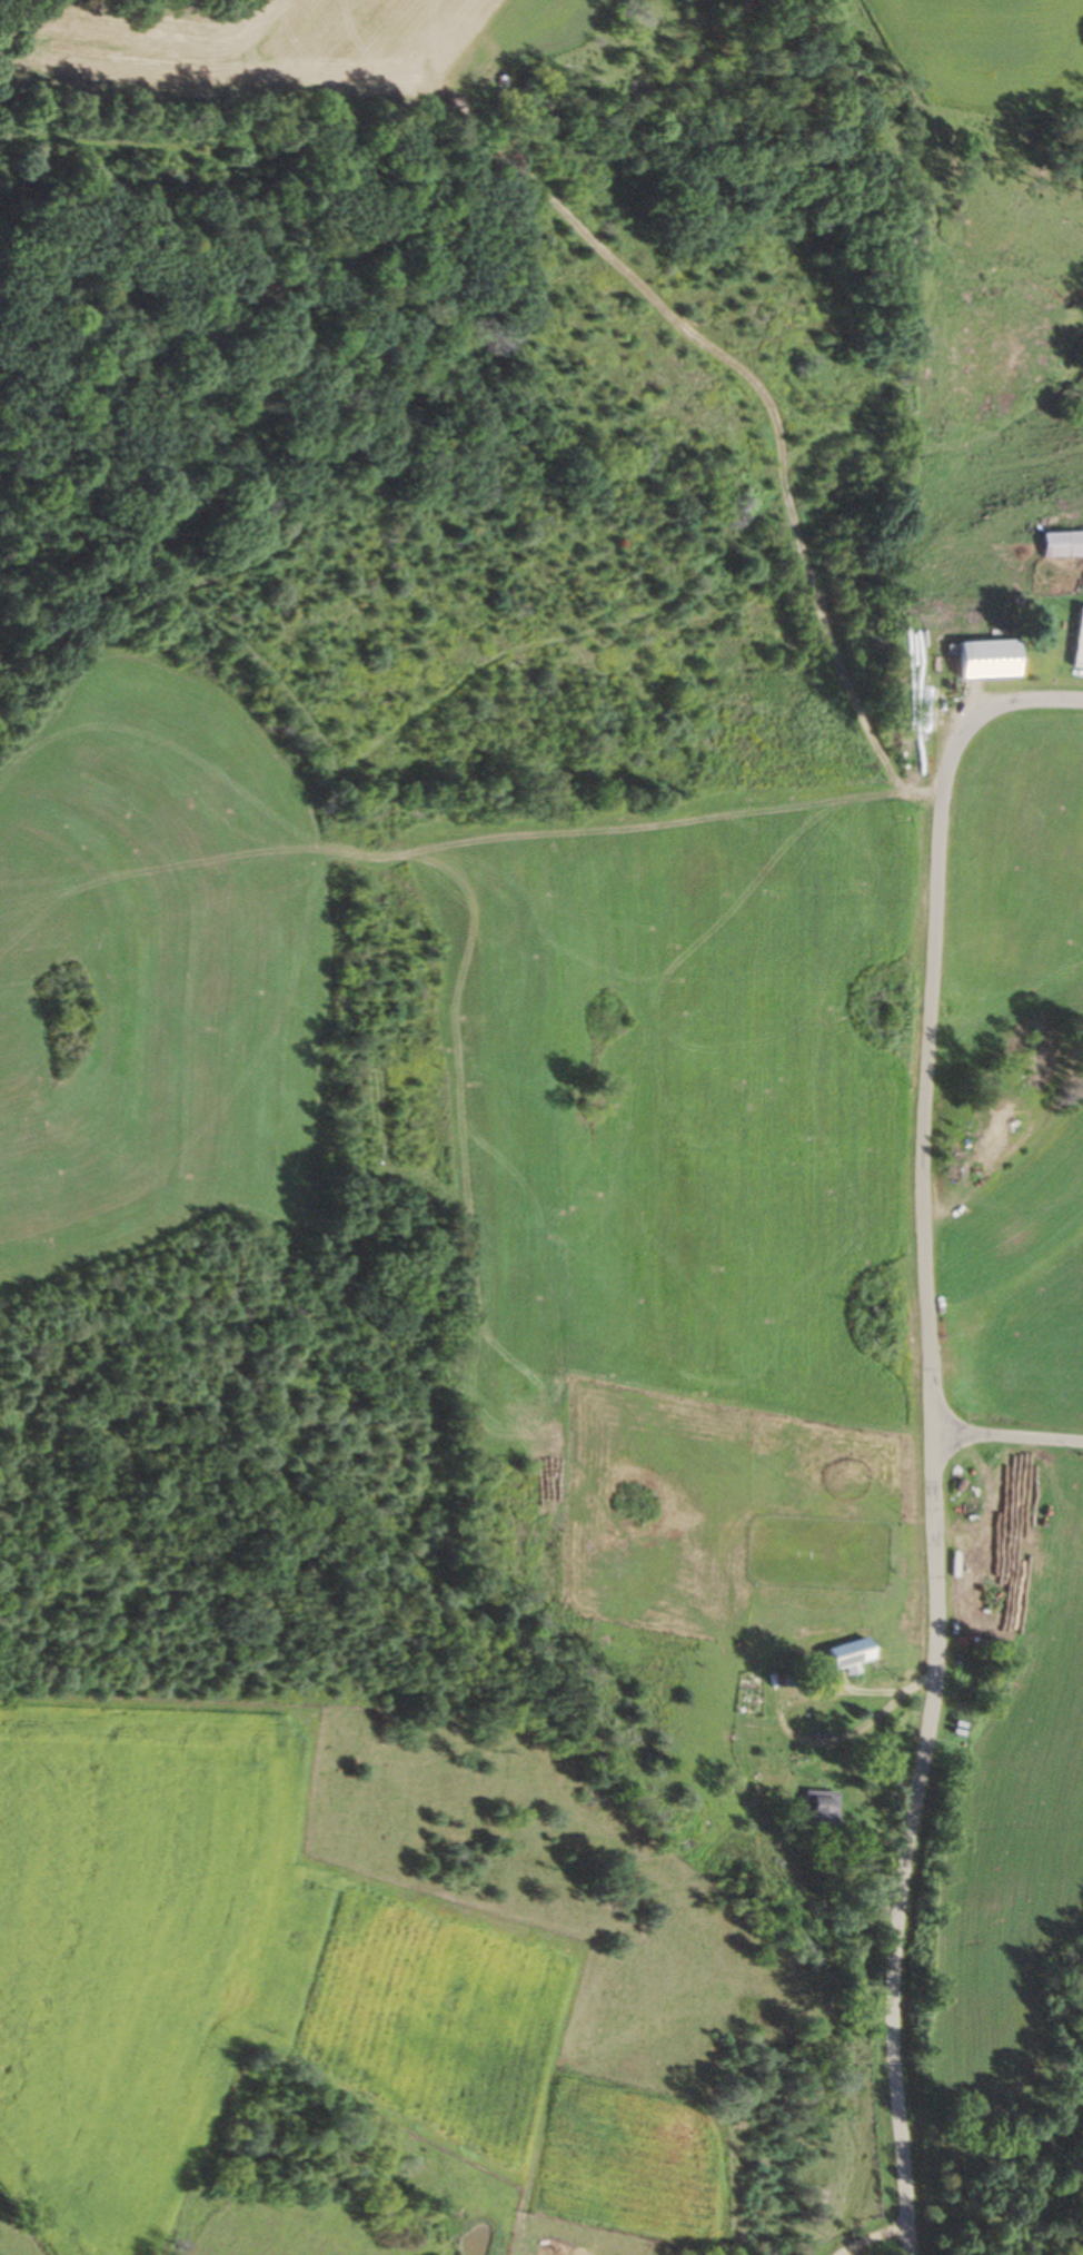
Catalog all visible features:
building: (1063, 543)
building: (1079, 641)
building: (990, 659)
road: (928, 1427)
road: (1006, 1437)
building: (852, 1653)
building: (818, 1808)
road: (841, 2227)

